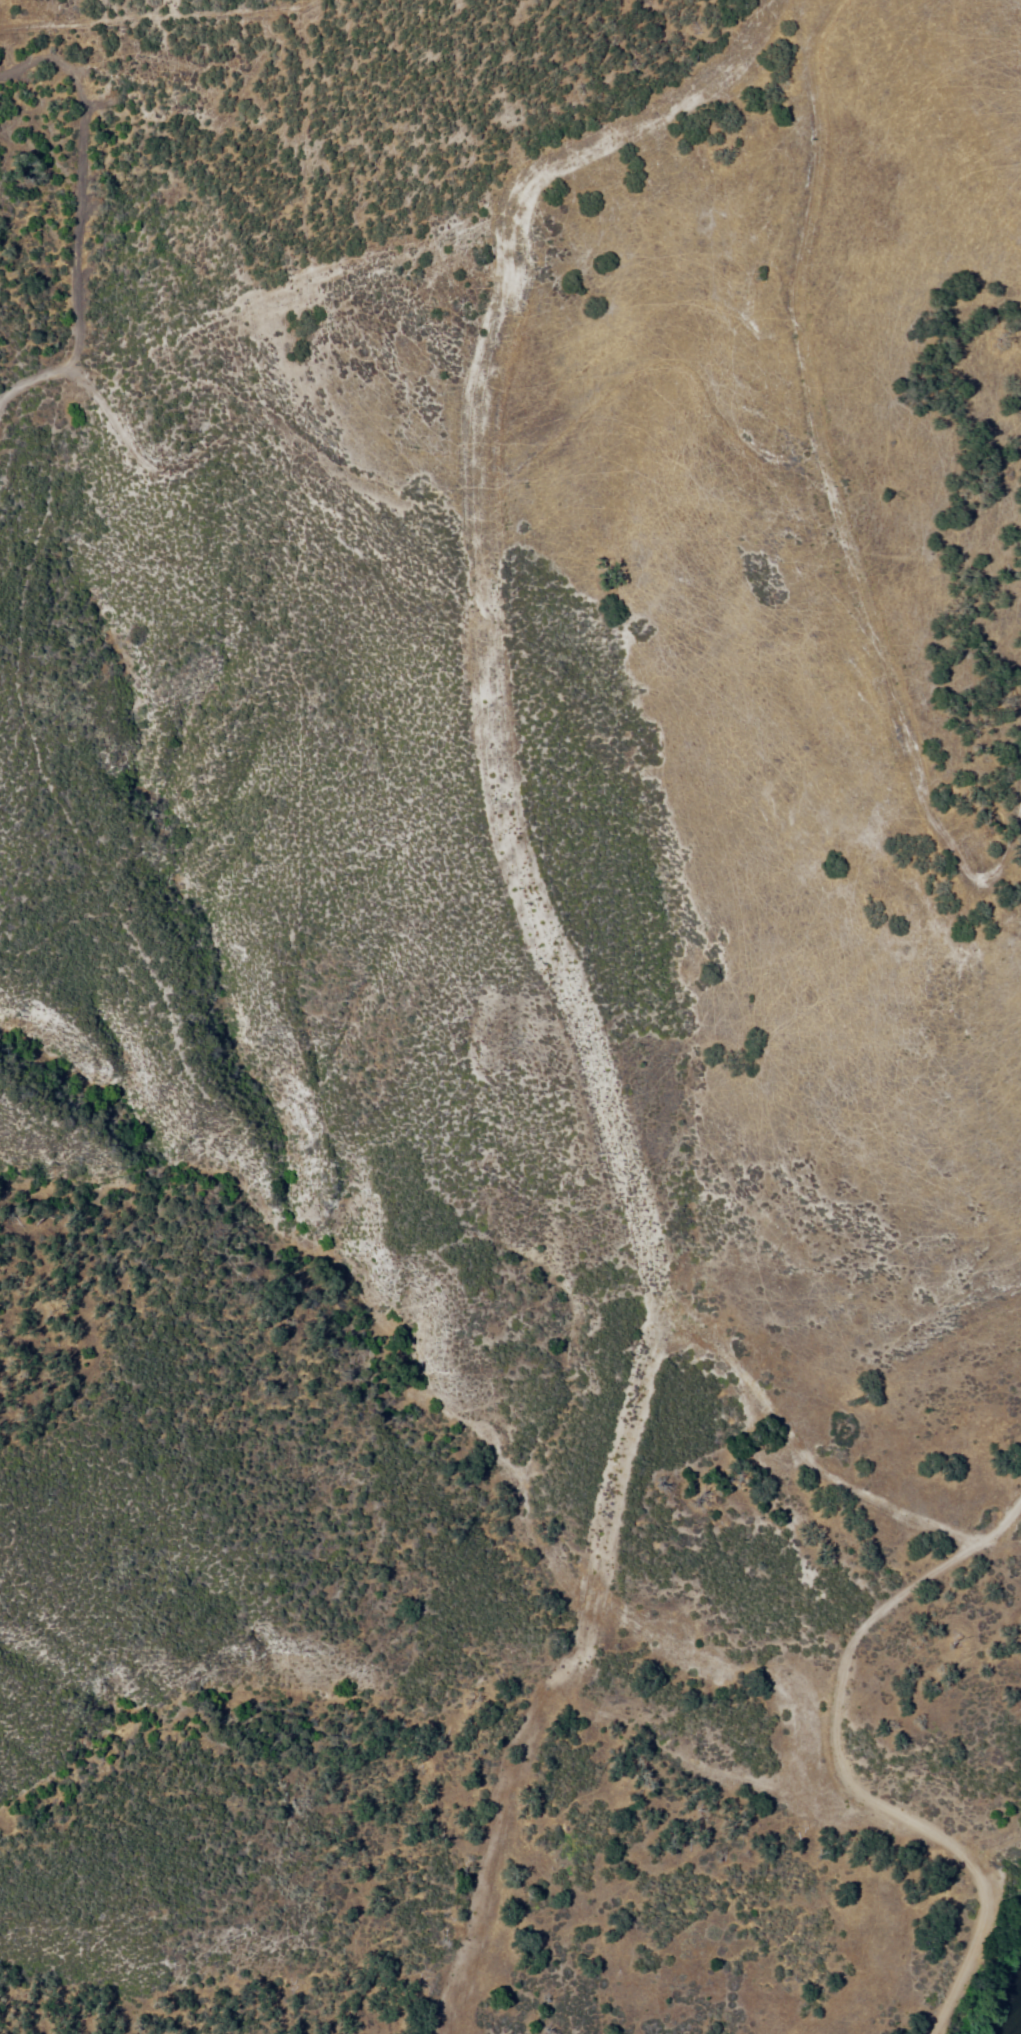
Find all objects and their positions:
road: (826, 505)
road: (560, 970)
road: (840, 1768)
river: (1011, 2016)

